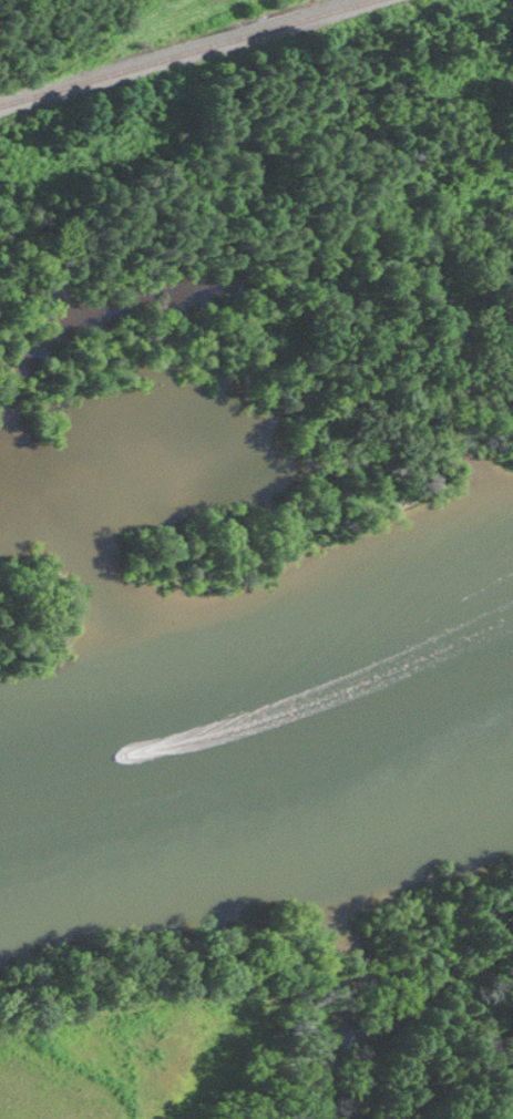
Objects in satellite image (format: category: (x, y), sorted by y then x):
railway: (175, 51)
river: (258, 571)

